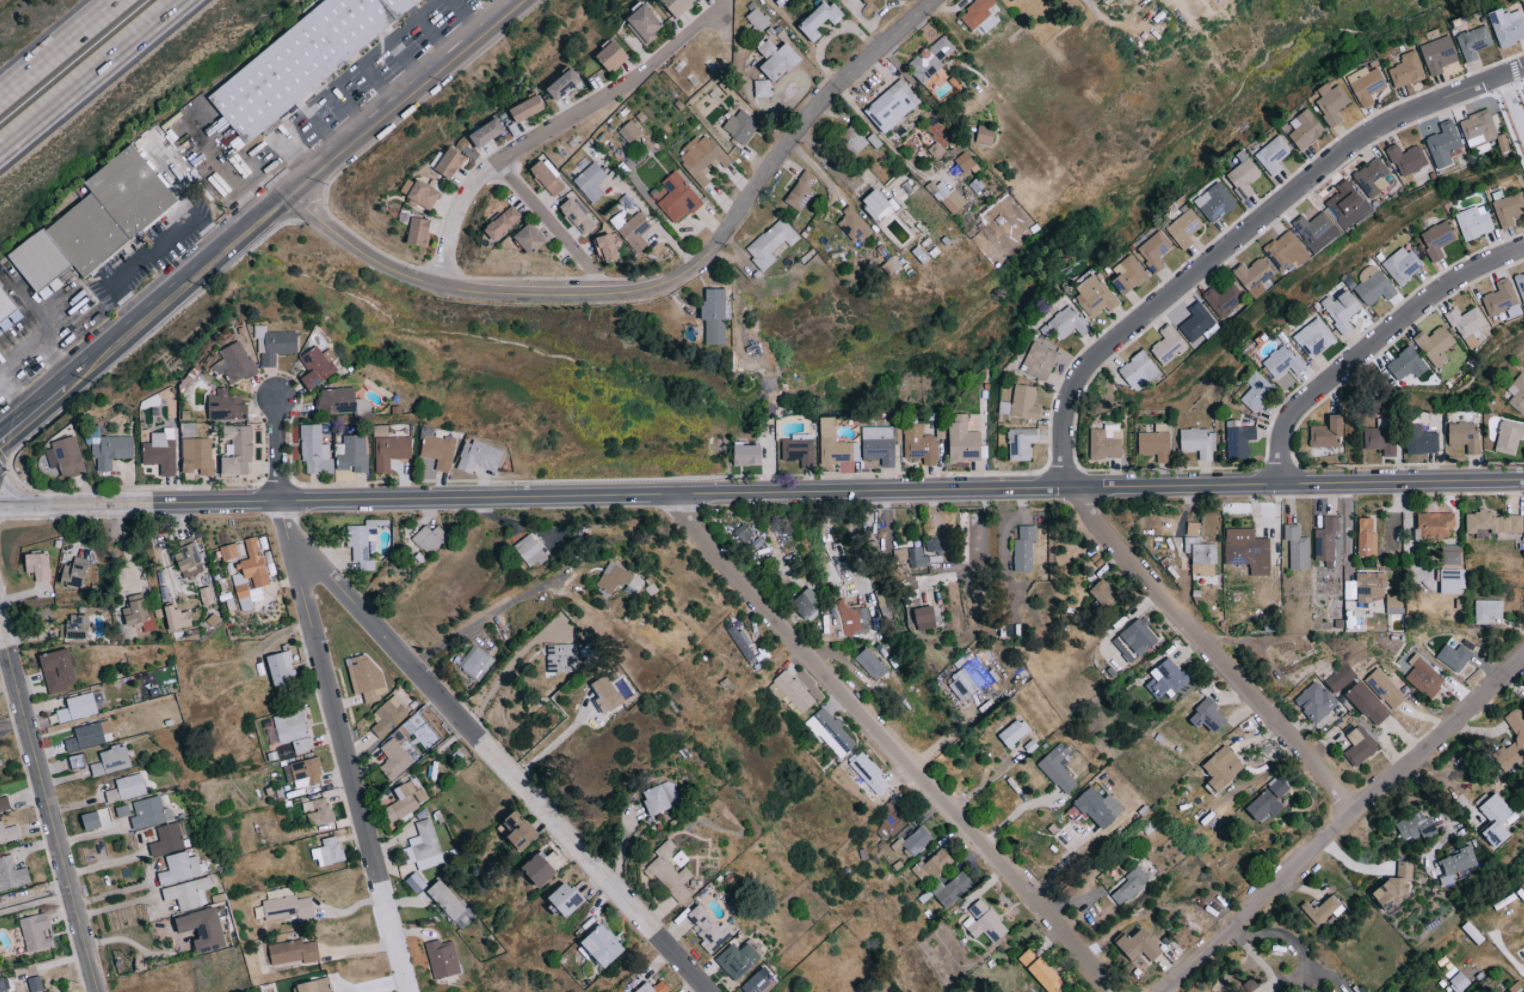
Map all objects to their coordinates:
building: (780, 1)
building: (870, 2)
building: (678, 5)
building: (980, 15)
road: (463, 19)
building: (757, 19)
building: (820, 19)
road: (1116, 20)
building: (644, 24)
building: (1507, 26)
road: (434, 37)
building: (1473, 42)
road: (57, 47)
building: (1437, 54)
building: (613, 55)
building: (301, 59)
building: (778, 59)
building: (931, 59)
road: (406, 61)
building: (1406, 70)
road: (94, 75)
road: (378, 84)
building: (564, 84)
building: (1366, 84)
building: (762, 88)
road: (316, 96)
road: (1513, 102)
building: (1330, 103)
building: (892, 105)
road: (351, 106)
building: (527, 108)
building: (741, 126)
road: (551, 129)
building: (1304, 129)
road: (322, 131)
building: (1478, 131)
building: (488, 132)
building: (629, 132)
building: (985, 135)
building: (853, 140)
building: (1502, 143)
building: (1444, 144)
road: (297, 151)
building: (1272, 154)
building: (702, 157)
building: (1407, 159)
building: (964, 161)
building: (451, 163)
building: (1244, 174)
building: (547, 177)
building: (1372, 177)
building: (591, 181)
building: (802, 190)
road: (296, 192)
building: (420, 193)
building: (947, 197)
building: (678, 198)
building: (1214, 202)
building: (876, 203)
building: (1347, 205)
building: (1508, 209)
building: (578, 215)
building: (97, 220)
road: (656, 221)
building: (503, 222)
building: (1474, 222)
building: (854, 225)
road: (552, 228)
building: (1184, 228)
building: (1317, 230)
building: (419, 231)
building: (635, 231)
road: (1244, 232)
building: (531, 239)
building: (1437, 239)
building: (771, 243)
building: (607, 247)
road: (151, 249)
building: (1154, 250)
building: (1287, 250)
building: (1401, 265)
building: (1129, 275)
building: (1254, 275)
road: (660, 283)
building: (1373, 285)
building: (1520, 285)
building: (1094, 296)
building: (1500, 298)
building: (1222, 301)
building: (1341, 310)
building: (8, 313)
building: (714, 316)
building: (1466, 321)
building: (1197, 322)
building: (1060, 324)
road: (39, 333)
building: (1314, 337)
road: (1372, 342)
building: (275, 345)
building: (1168, 345)
building: (1435, 345)
building: (1039, 361)
building: (1283, 362)
building: (234, 363)
building: (1407, 364)
building: (318, 366)
building: (1139, 371)
building: (1257, 391)
building: (1517, 393)
building: (336, 400)
building: (1022, 403)
building: (226, 406)
road: (31, 407)
building: (1327, 432)
building: (1381, 436)
building: (1464, 436)
building: (1509, 436)
building: (963, 440)
building: (1239, 440)
building: (1106, 441)
building: (1422, 441)
building: (1155, 442)
building: (1197, 442)
building: (1021, 443)
road: (280, 444)
building: (878, 444)
building: (920, 444)
building: (835, 445)
building: (238, 449)
building: (314, 450)
building: (112, 451)
building: (161, 451)
building: (391, 451)
building: (439, 451)
building: (798, 451)
building: (351, 453)
building: (197, 455)
building: (748, 455)
building: (65, 457)
building: (480, 457)
road: (761, 489)
road: (283, 515)
building: (1492, 523)
building: (1435, 524)
building: (1192, 528)
building: (743, 532)
road: (1348, 532)
building: (1367, 536)
building: (429, 538)
building: (1326, 540)
building: (361, 543)
building: (933, 545)
building: (1297, 546)
building: (1024, 549)
building: (530, 550)
building: (229, 551)
building: (1249, 553)
building: (1450, 554)
building: (1201, 556)
building: (917, 557)
building: (189, 559)
building: (254, 563)
building: (39, 565)
building: (75, 571)
building: (91, 573)
building: (614, 577)
building: (1449, 581)
building: (1370, 585)
building: (242, 590)
building: (1104, 593)
building: (807, 602)
building: (1394, 603)
building: (137, 609)
building: (1487, 610)
building: (178, 617)
road: (485, 617)
building: (925, 617)
building: (853, 618)
building: (76, 626)
building: (1135, 639)
building: (746, 646)
road: (1210, 648)
building: (1456, 654)
building: (477, 663)
building: (871, 663)
building: (281, 667)
building: (58, 670)
road: (506, 670)
building: (366, 676)
building: (1341, 677)
building: (1425, 677)
building: (1167, 678)
building: (967, 681)
building: (1385, 688)
building: (776, 690)
building: (793, 690)
building: (608, 694)
building: (1316, 701)
building: (1367, 703)
building: (77, 707)
building: (388, 715)
building: (1208, 715)
road: (472, 722)
road: (12, 723)
building: (1517, 727)
building: (293, 730)
building: (830, 732)
building: (1013, 732)
building: (85, 738)
road: (892, 741)
building: (1359, 745)
building: (394, 758)
building: (77, 760)
building: (111, 760)
road: (498, 763)
road: (347, 764)
building: (1223, 767)
building: (1058, 768)
building: (306, 772)
building: (869, 773)
building: (1278, 786)
building: (126, 788)
building: (662, 796)
building: (406, 799)
building: (4, 804)
building: (1265, 804)
building: (1099, 807)
road: (48, 810)
building: (318, 811)
building: (150, 812)
building: (91, 820)
building: (1496, 820)
road: (1340, 824)
building: (1416, 825)
building: (1149, 826)
building: (521, 830)
building: (8, 832)
building: (167, 839)
building: (913, 839)
building: (423, 846)
building: (328, 851)
building: (1456, 863)
road: (110, 864)
building: (932, 866)
building: (181, 867)
building: (540, 868)
building: (670, 872)
building: (12, 874)
building: (415, 882)
building: (1131, 884)
building: (1398, 885)
building: (952, 888)
road: (152, 890)
building: (188, 893)
building: (567, 897)
building: (448, 901)
road: (35, 903)
building: (287, 907)
building: (1322, 909)
building: (984, 922)
building: (203, 928)
building: (710, 928)
building: (35, 931)
building: (603, 945)
building: (1139, 945)
building: (293, 951)
building: (442, 958)
building: (738, 959)
road: (1305, 963)
building: (1040, 970)
building: (1459, 981)
building: (759, 982)
building: (34, 983)
building: (4, 984)
building: (1251, 984)
building: (314, 985)
building: (654, 987)
building: (1515, 987)
building: (1292, 991)

